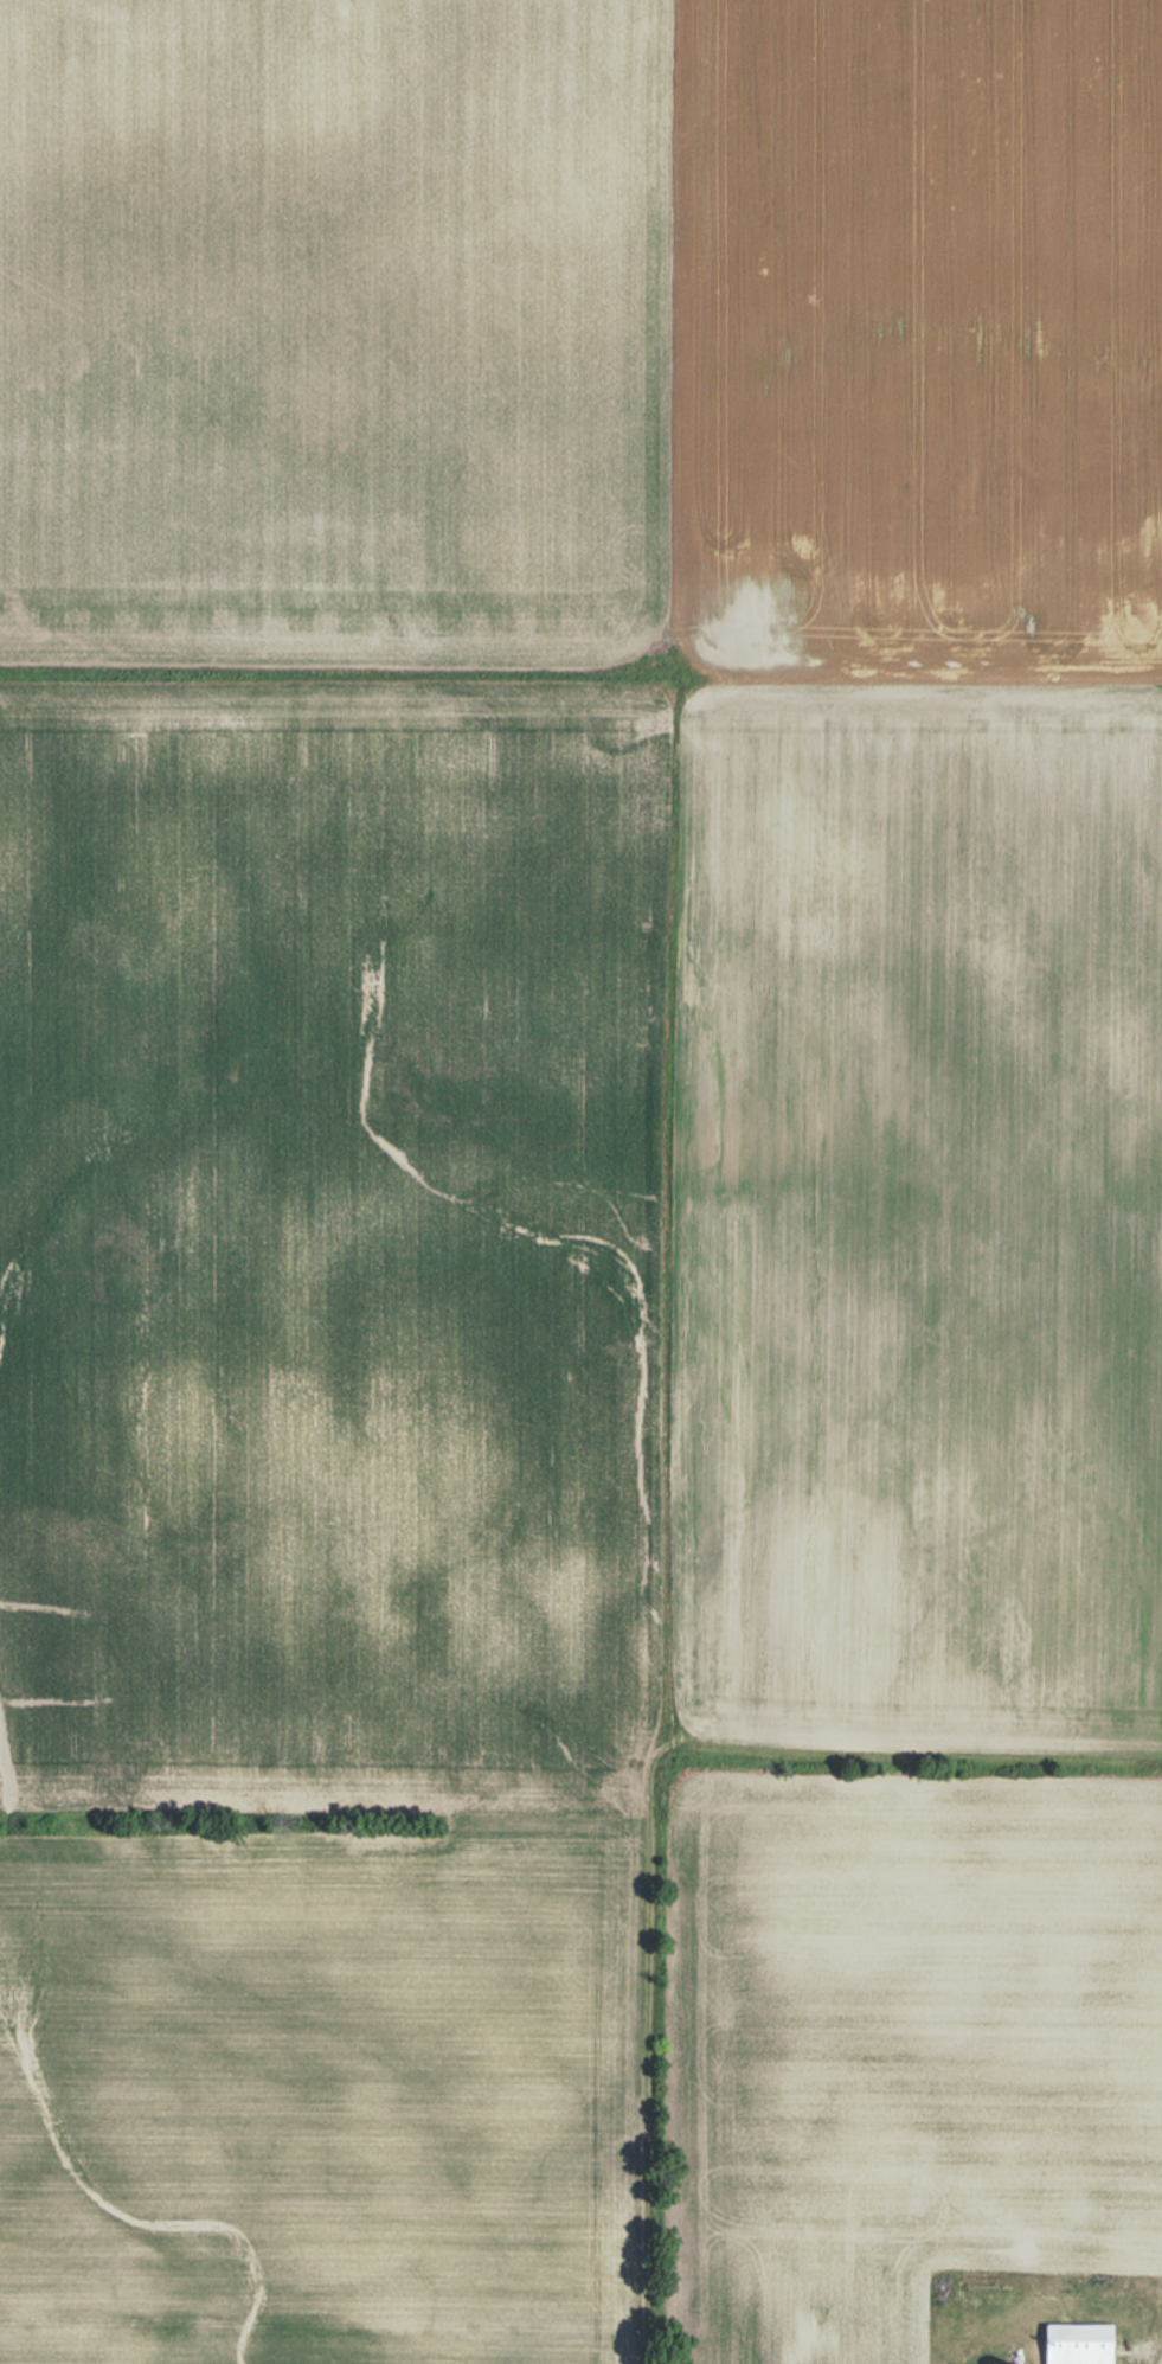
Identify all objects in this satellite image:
building: (1080, 2344)

